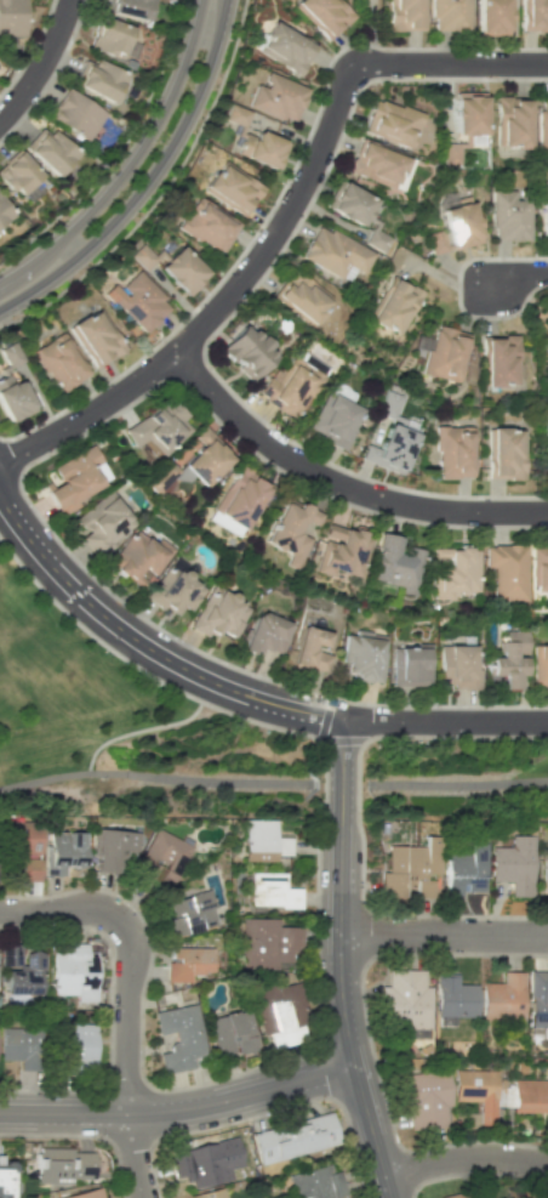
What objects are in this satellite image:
building: (127, 7)
building: (322, 15)
building: (404, 15)
building: (449, 15)
building: (533, 15)
building: (11, 17)
building: (491, 17)
park: (371, 19)
road: (370, 32)
building: (108, 35)
building: (284, 49)
road: (41, 67)
building: (98, 78)
building: (278, 97)
building: (74, 113)
building: (235, 115)
building: (468, 115)
building: (512, 121)
building: (390, 123)
building: (542, 123)
park: (133, 124)
building: (261, 148)
building: (48, 149)
building: (450, 153)
road: (132, 164)
building: (375, 164)
building: (17, 172)
road: (145, 178)
building: (230, 187)
building: (348, 203)
building: (2, 212)
building: (507, 215)
building: (544, 216)
building: (206, 223)
road: (279, 226)
building: (458, 226)
building: (434, 240)
building: (139, 254)
building: (335, 254)
building: (181, 269)
road: (520, 274)
building: (301, 297)
building: (137, 301)
building: (392, 305)
building: (95, 337)
building: (246, 351)
building: (443, 352)
building: (10, 353)
building: (498, 360)
building: (58, 362)
building: (13, 398)
building: (388, 403)
building: (333, 419)
building: (159, 424)
building: (389, 449)
building: (452, 452)
building: (504, 453)
building: (188, 464)
building: (74, 478)
road: (337, 482)
building: (240, 501)
building: (103, 518)
building: (293, 529)
building: (342, 551)
building: (138, 557)
building: (396, 563)
building: (540, 568)
building: (507, 569)
building: (455, 570)
building: (175, 591)
building: (218, 614)
building: (264, 634)
park: (2, 638)
building: (310, 648)
building: (364, 655)
building: (509, 660)
building: (540, 664)
building: (412, 666)
building: (458, 668)
road: (238, 692)
road: (184, 720)
park: (127, 734)
road: (105, 743)
road: (156, 776)
park: (453, 776)
road: (458, 783)
building: (19, 836)
building: (262, 841)
building: (112, 848)
building: (62, 851)
building: (158, 862)
building: (512, 864)
building: (28, 869)
building: (410, 869)
building: (463, 869)
building: (543, 870)
building: (272, 890)
street lamp: (40, 893)
building: (187, 915)
road: (443, 932)
building: (267, 942)
road: (127, 958)
road: (339, 960)
building: (185, 963)
building: (19, 969)
building: (73, 971)
building: (452, 997)
building: (537, 999)
building: (403, 1000)
building: (502, 1001)
building: (279, 1012)
building: (230, 1033)
building: (178, 1037)
building: (21, 1046)
building: (72, 1047)
building: (476, 1092)
building: (529, 1095)
building: (423, 1097)
road: (178, 1111)
street lamp: (93, 1137)
building: (293, 1139)
road: (464, 1156)
road: (133, 1157)
building: (205, 1162)
building: (61, 1164)
building: (5, 1179)
building: (315, 1182)
building: (85, 1193)
building: (209, 1193)
building: (467, 1193)
street lamp: (162, 1196)

